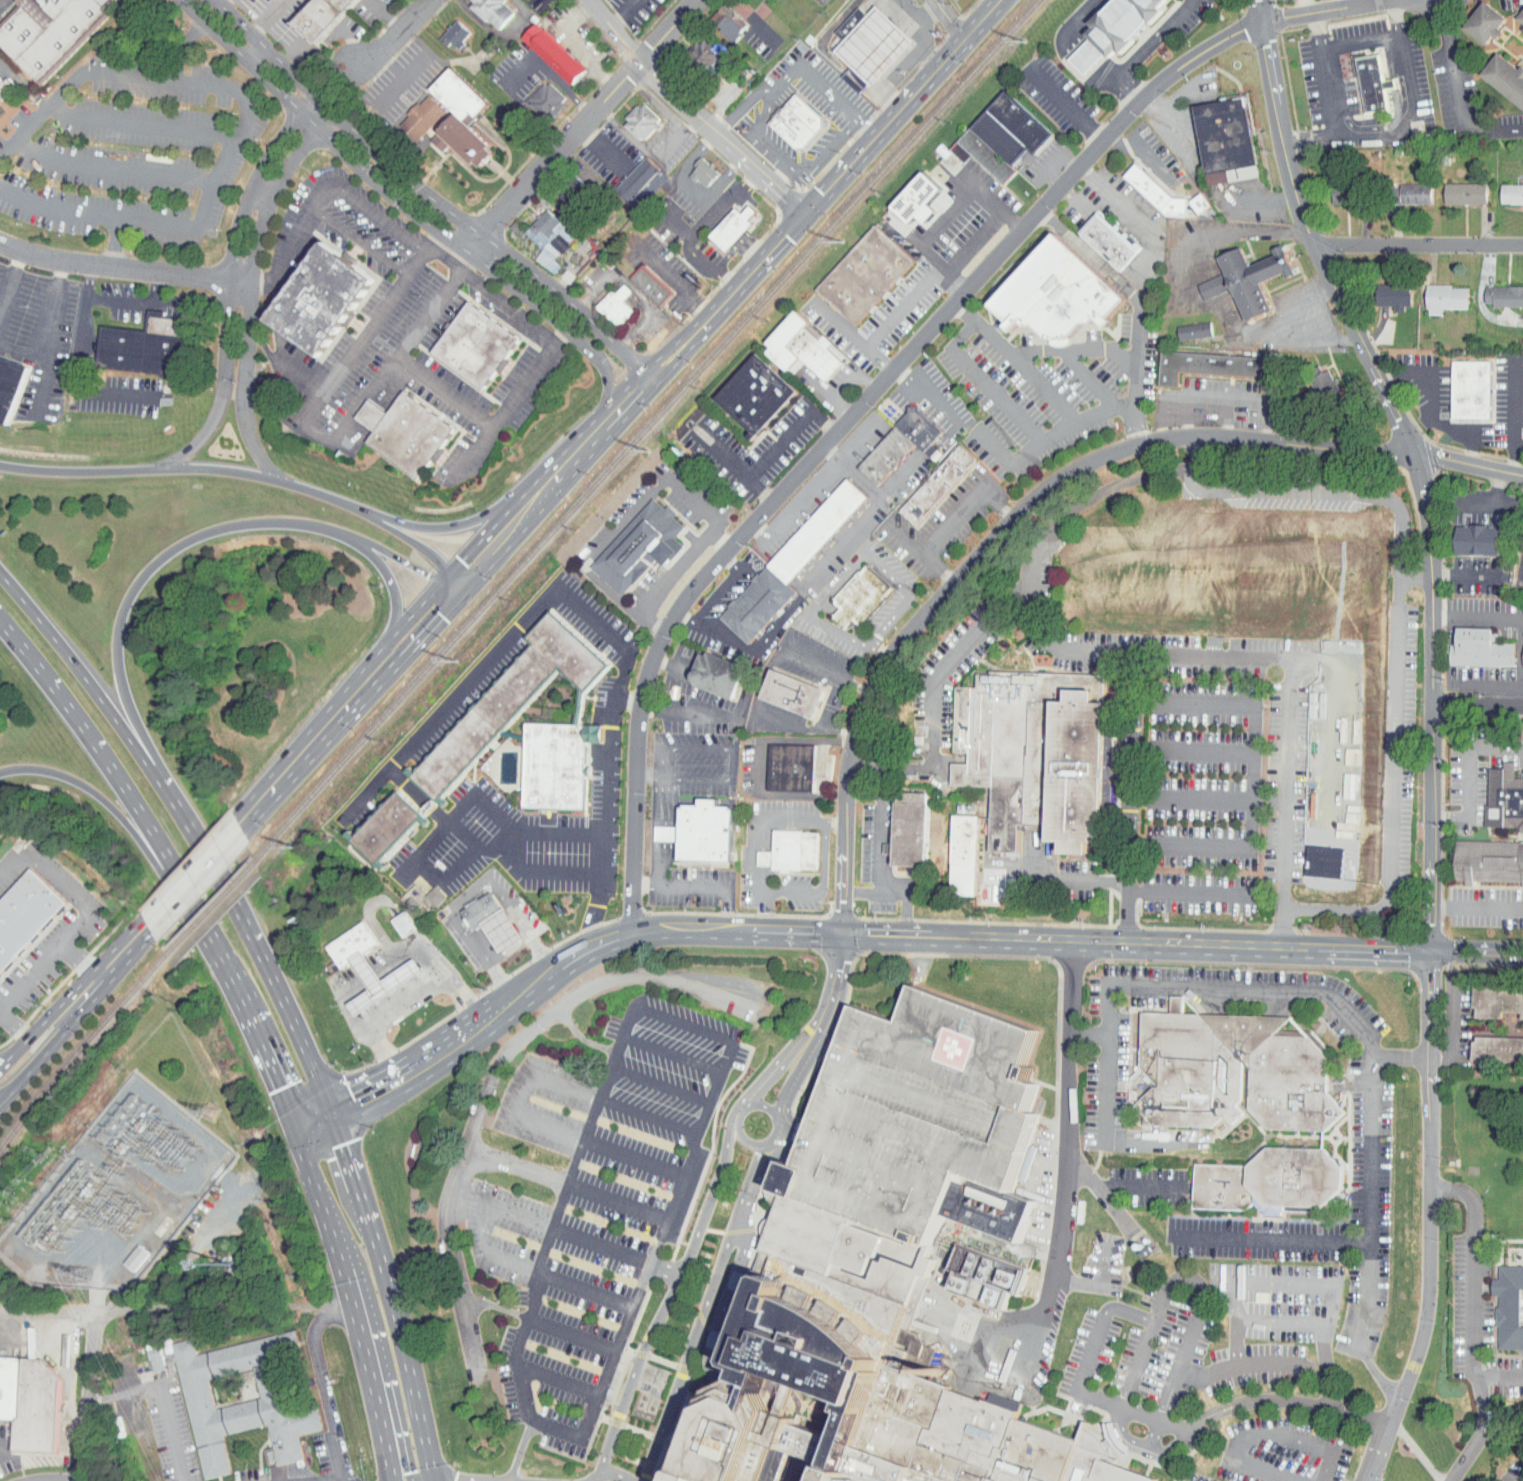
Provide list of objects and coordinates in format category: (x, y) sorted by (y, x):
road: (699, 0)
road: (1342, 3)
road: (1302, 6)
building: (484, 8)
road: (1320, 10)
road: (625, 12)
building: (1517, 12)
building: (318, 16)
road: (1079, 16)
building: (718, 17)
building: (1477, 18)
road: (266, 19)
road: (950, 21)
building: (444, 28)
building: (1116, 28)
building: (46, 30)
road: (393, 34)
building: (860, 38)
road: (1153, 40)
road: (1076, 42)
road: (1362, 42)
road: (577, 45)
building: (555, 54)
road: (1088, 54)
road: (254, 56)
road: (1450, 58)
road: (1102, 69)
building: (1362, 77)
building: (1501, 77)
road: (23, 85)
road: (822, 87)
road: (1123, 90)
building: (537, 92)
road: (740, 105)
road: (1067, 105)
building: (411, 110)
building: (450, 111)
road: (696, 111)
building: (631, 115)
building: (644, 122)
building: (798, 122)
road: (138, 124)
road: (240, 125)
road: (584, 125)
road: (1489, 130)
road: (629, 135)
building: (1002, 136)
road: (678, 137)
road: (1378, 138)
building: (1225, 140)
road: (787, 165)
building: (693, 166)
road: (111, 167)
building: (627, 171)
building: (706, 172)
road: (783, 176)
building: (638, 177)
building: (1331, 188)
building: (1459, 188)
building: (1506, 188)
building: (1403, 189)
road: (688, 190)
road: (739, 191)
building: (1157, 193)
road: (424, 194)
road: (259, 195)
road: (1070, 195)
building: (1189, 198)
building: (920, 203)
building: (1200, 204)
road: (405, 205)
road: (1129, 213)
traffic signals: (808, 217)
road: (944, 217)
road: (380, 219)
building: (723, 221)
road: (673, 225)
road: (703, 226)
building: (734, 226)
building: (538, 233)
road: (291, 235)
road: (742, 235)
road: (1248, 235)
building: (1108, 240)
road: (356, 242)
road: (1418, 244)
road: (113, 245)
road: (709, 265)
road: (122, 270)
building: (1244, 272)
building: (866, 275)
road: (930, 276)
road: (1115, 278)
building: (1203, 280)
road: (227, 281)
road: (10, 282)
building: (653, 285)
road: (246, 288)
building: (1061, 292)
building: (1396, 294)
building: (1505, 295)
building: (322, 296)
building: (1448, 297)
building: (605, 299)
road: (1192, 301)
road: (134, 302)
road: (505, 304)
building: (617, 305)
road: (1293, 306)
building: (1184, 324)
building: (1194, 331)
road: (851, 335)
road: (53, 336)
road: (1307, 336)
building: (475, 344)
building: (140, 345)
building: (803, 347)
road: (1079, 350)
road: (77, 364)
road: (280, 367)
building: (1221, 367)
building: (1313, 375)
road: (1089, 380)
building: (12, 387)
road: (1046, 387)
road: (43, 388)
building: (1473, 390)
building: (756, 394)
road: (928, 395)
road: (1208, 396)
road: (616, 407)
road: (1014, 414)
road: (1087, 416)
road: (1185, 416)
road: (1515, 416)
road: (1224, 418)
road: (845, 420)
road: (492, 421)
road: (1444, 424)
railway: (644, 429)
building: (406, 431)
road: (787, 432)
road: (847, 433)
road: (310, 434)
building: (900, 444)
road: (472, 449)
road: (733, 465)
road: (244, 472)
road: (897, 477)
building: (927, 478)
building: (937, 484)
road: (795, 489)
road: (1306, 494)
road: (1038, 499)
road: (1490, 503)
road: (624, 518)
road: (951, 523)
road: (457, 524)
building: (1521, 533)
road: (904, 538)
building: (1479, 540)
building: (639, 544)
road: (410, 564)
building: (792, 564)
road: (854, 564)
traffic signals: (470, 568)
traffic signals: (427, 574)
road: (672, 576)
road: (1466, 577)
road: (139, 581)
road: (810, 581)
road: (726, 585)
building: (859, 597)
road: (395, 599)
traffic signals: (433, 608)
road: (589, 615)
road: (1478, 615)
road: (1031, 621)
building: (1482, 648)
building: (1518, 649)
road: (879, 654)
road: (1520, 663)
road: (672, 665)
building: (718, 672)
road: (760, 679)
road: (92, 690)
building: (793, 691)
road: (1434, 697)
building: (511, 698)
road: (630, 699)
road: (1218, 702)
road: (1478, 705)
road: (685, 712)
road: (75, 724)
road: (731, 748)
building: (1039, 753)
road: (760, 762)
building: (558, 764)
building: (791, 766)
road: (1468, 772)
road: (650, 775)
road: (1250, 775)
road: (1391, 775)
road: (78, 782)
road: (1129, 797)
building: (1503, 798)
road: (1285, 803)
road: (489, 810)
road: (833, 820)
road: (755, 822)
building: (655, 827)
building: (912, 828)
building: (388, 829)
road: (666, 830)
building: (707, 832)
road: (460, 834)
road: (880, 844)
building: (953, 845)
road: (1210, 845)
road: (494, 847)
building: (792, 850)
building: (966, 851)
building: (1489, 861)
road: (541, 872)
road: (197, 874)
road: (1065, 881)
road: (820, 885)
road: (701, 886)
building: (424, 890)
road: (1188, 892)
road: (468, 893)
road: (905, 901)
railway: (210, 906)
road: (1477, 908)
building: (481, 910)
road: (759, 912)
road: (194, 914)
building: (25, 915)
road: (85, 916)
building: (392, 918)
building: (502, 929)
road: (735, 932)
traffic signals: (840, 936)
road: (1054, 940)
building: (352, 943)
road: (414, 947)
road: (589, 947)
road: (1395, 951)
traffic signals: (1432, 953)
road: (81, 959)
road: (258, 959)
road: (111, 965)
road: (371, 977)
building: (379, 981)
road: (531, 984)
road: (833, 994)
road: (404, 1001)
road: (346, 1003)
building: (1498, 1004)
road: (494, 1009)
road: (1, 1010)
road: (1352, 1014)
road: (16, 1023)
road: (685, 1023)
road: (46, 1024)
road: (1451, 1026)
road: (583, 1039)
railway: (79, 1048)
helipad: (961, 1048)
building: (1498, 1048)
road: (513, 1049)
road: (437, 1051)
road: (12, 1052)
road: (675, 1052)
road: (12, 1055)
road: (39, 1057)
road: (1403, 1057)
road: (270, 1064)
road: (771, 1075)
road: (789, 1083)
traffic signals: (279, 1086)
road: (661, 1086)
road: (522, 1092)
road: (600, 1095)
traffic signals: (356, 1099)
road: (346, 1103)
road: (614, 1103)
road: (762, 1104)
building: (1249, 1106)
building: (917, 1112)
parking garage: (917, 1112)
road: (736, 1113)
road: (774, 1130)
road: (768, 1140)
road: (742, 1141)
road: (599, 1144)
traffic signals: (341, 1145)
road: (1074, 1156)
road: (346, 1161)
road: (517, 1167)
road: (1124, 1191)
power substation: (116, 1194)
parking lot: (591, 1202)
road: (617, 1204)
road: (1122, 1211)
power tower: (116, 1223)
road: (484, 1227)
power tower: (124, 1230)
road: (561, 1230)
road: (1278, 1237)
road: (659, 1241)
building: (125, 1252)
road: (666, 1269)
power tower: (84, 1274)
road: (559, 1279)
building: (994, 1279)
road: (1100, 1280)
road: (1283, 1281)
road: (356, 1300)
road: (666, 1301)
road: (465, 1303)
building: (1510, 1307)
road: (704, 1308)
road: (93, 1311)
road: (1470, 1320)
road: (1279, 1323)
road: (527, 1325)
road: (1235, 1325)
road: (992, 1330)
road: (572, 1334)
road: (1149, 1338)
road: (708, 1344)
road: (1324, 1344)
road: (400, 1345)
building: (144, 1351)
road: (1235, 1367)
road: (386, 1374)
building: (859, 1376)
road: (555, 1378)
road: (320, 1379)
road: (1499, 1380)
building: (230, 1393)
road: (92, 1396)
road: (161, 1400)
road: (1282, 1400)
building: (30, 1402)
road: (1145, 1415)
road: (68, 1416)
road: (79, 1416)
road: (555, 1431)
road: (1260, 1433)
road: (1379, 1450)
road: (1416, 1450)
road: (520, 1451)
traffic signals: (410, 1471)
road: (610, 1474)
parking lot: (1196, 1476)
road: (472, 1477)
road: (1520, 1478)
road: (592, 1480)

